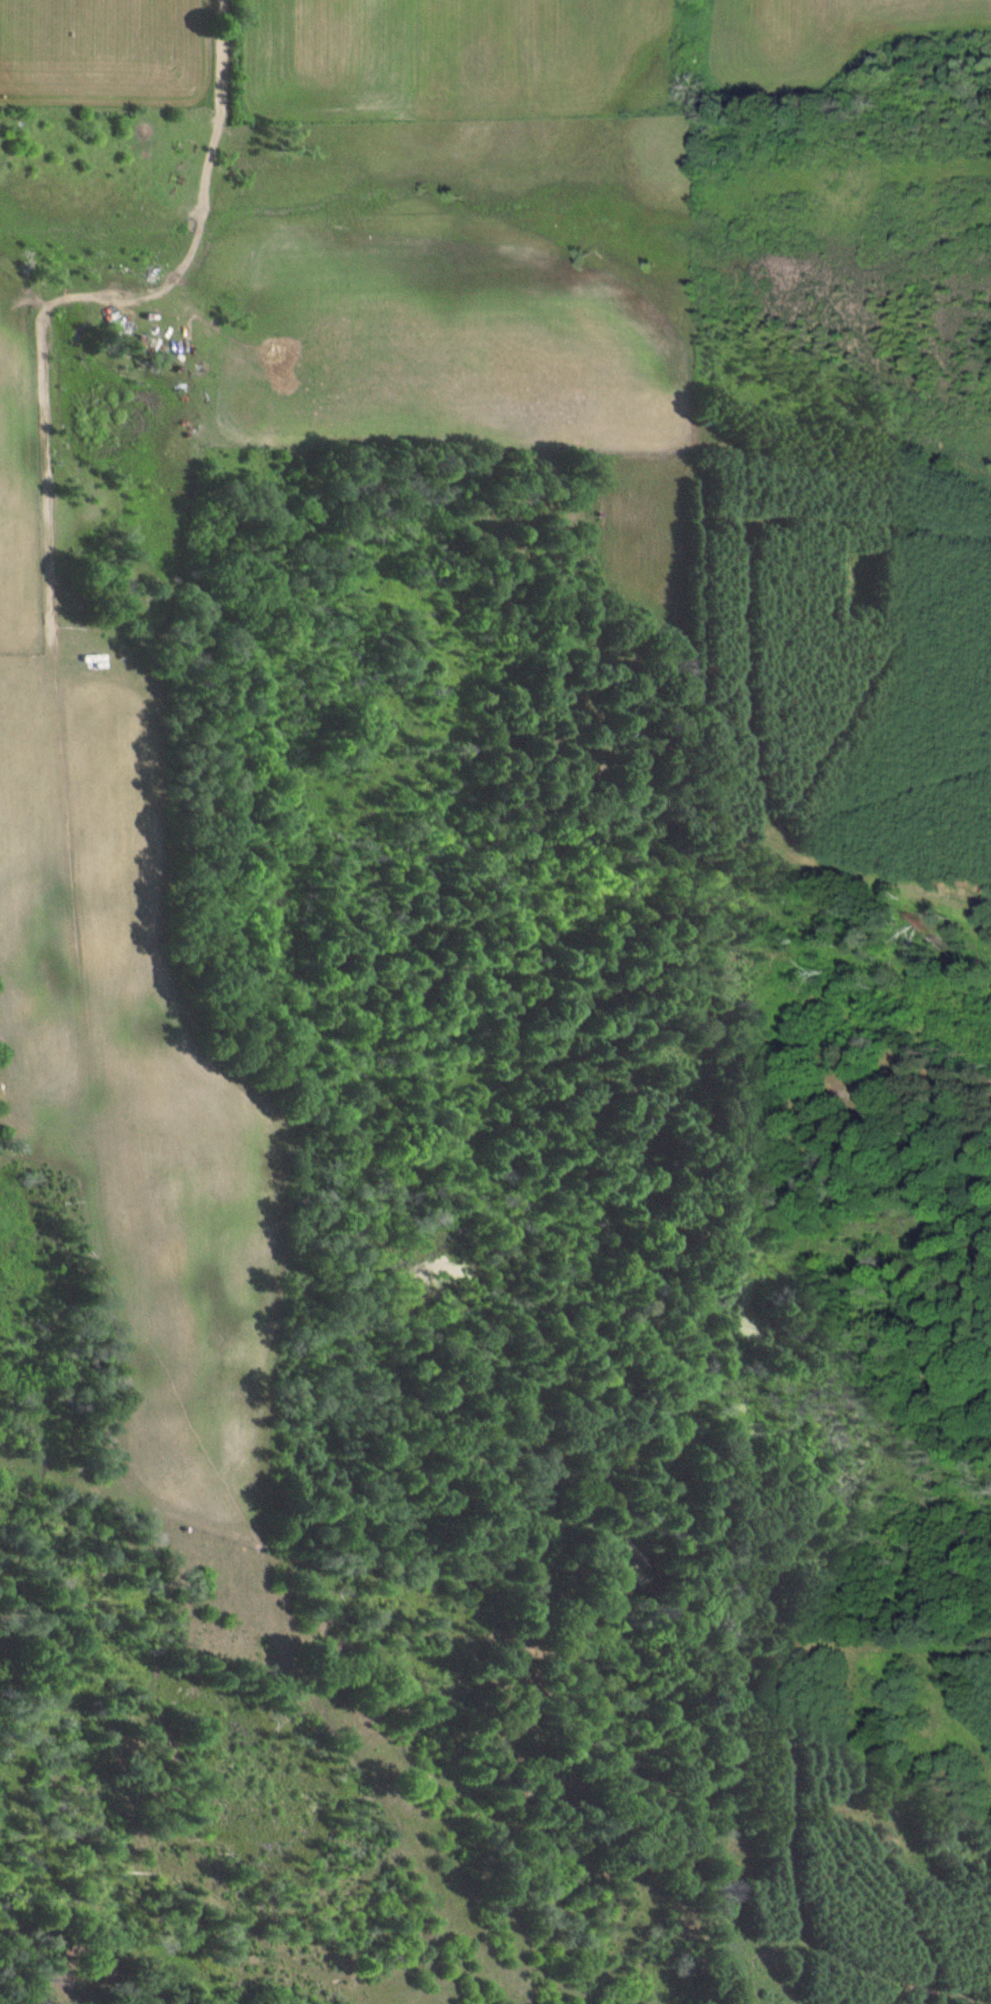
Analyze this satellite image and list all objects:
building: (89, 659)

